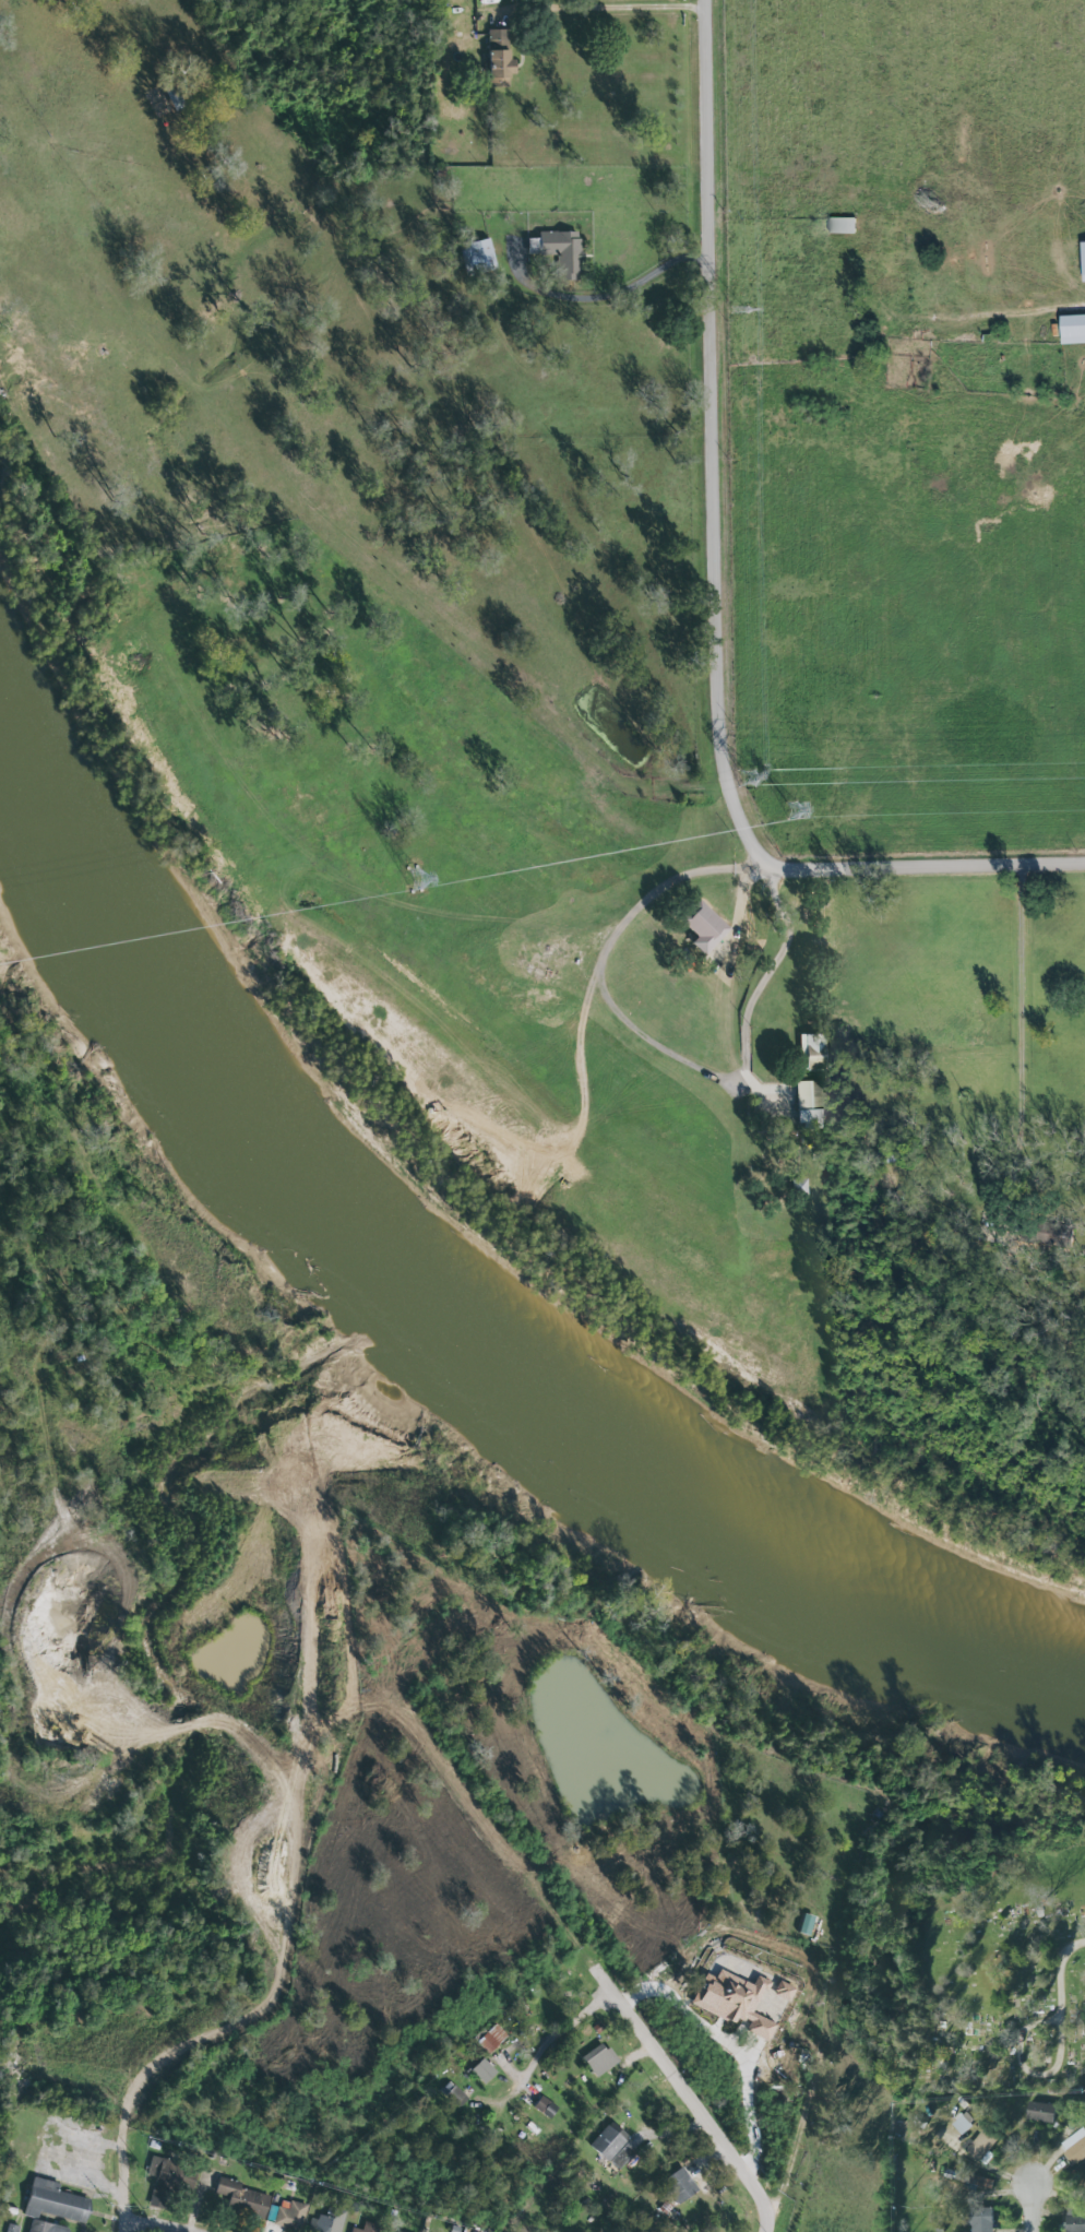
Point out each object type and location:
road: (617, 8)
building: (498, 59)
building: (845, 227)
building: (1084, 249)
building: (561, 252)
building: (479, 254)
road: (607, 294)
power tower: (739, 311)
road: (1000, 319)
building: (1074, 331)
road: (353, 534)
road: (722, 595)
power tower: (748, 773)
power tower: (789, 810)
power tower: (414, 883)
road: (742, 901)
building: (707, 928)
road: (761, 982)
building: (814, 1053)
building: (812, 1103)
river: (443, 1308)
building: (808, 1925)
road: (1060, 1976)
park: (1002, 1995)
building: (491, 2040)
road: (511, 2047)
road: (542, 2049)
building: (599, 2062)
building: (485, 2071)
road: (1027, 2071)
building: (453, 2097)
road: (688, 2098)
building: (547, 2109)
building: (1045, 2113)
building: (967, 2122)
building: (985, 2146)
building: (615, 2147)
road: (795, 2151)
building: (1076, 2152)
building: (166, 2181)
road: (121, 2184)
building: (680, 2186)
building: (243, 2199)
building: (56, 2203)
road: (1034, 2210)
building: (290, 2216)
building: (986, 2220)
road: (154, 2222)
building: (1074, 2222)
building: (324, 2223)
building: (47, 2228)
building: (369, 2228)
building: (396, 2231)

